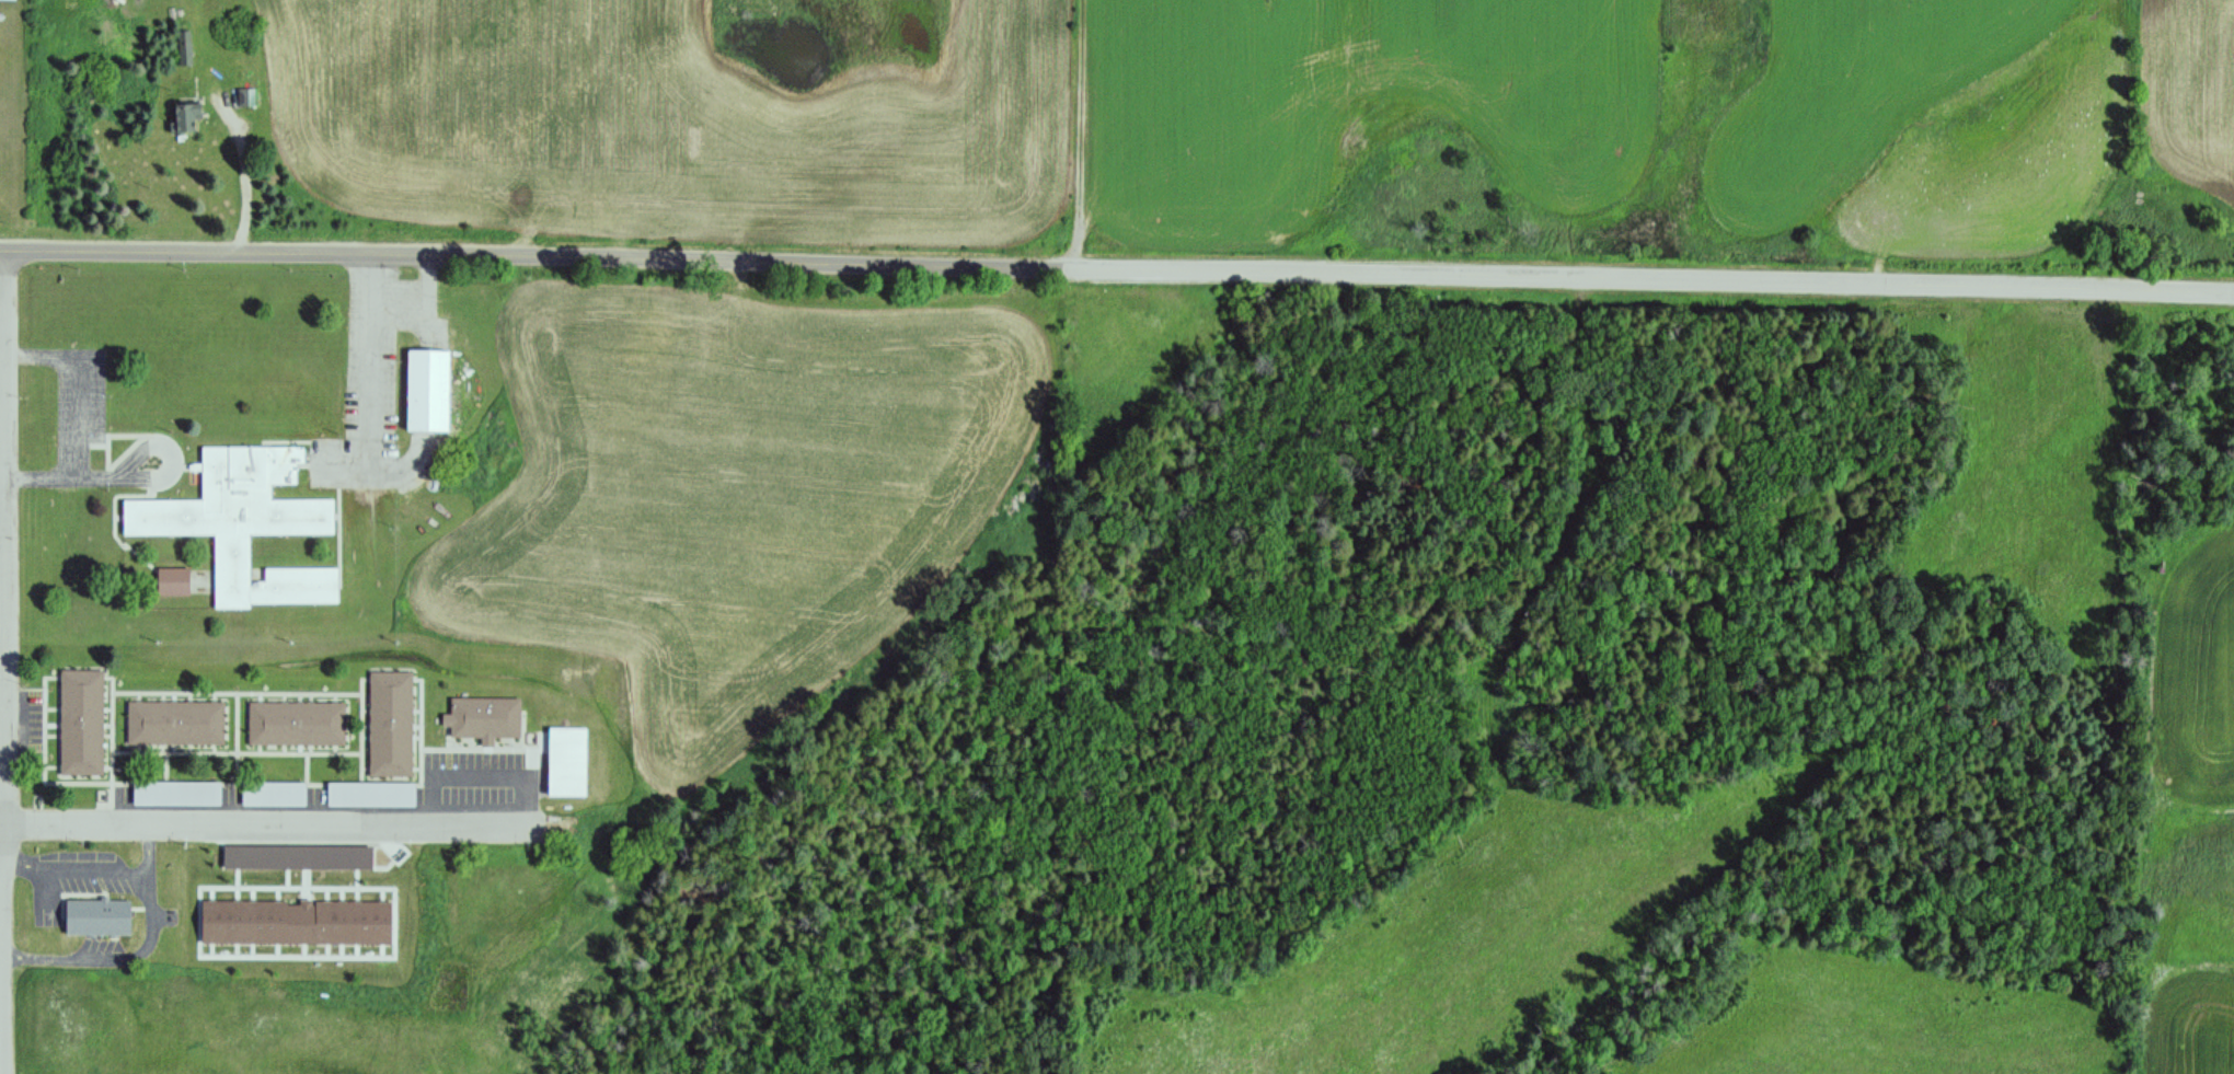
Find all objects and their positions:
building: (9, 0)
building: (182, 46)
building: (242, 95)
building: (181, 114)
road: (1081, 135)
road: (1, 253)
road: (1118, 270)
road: (367, 365)
road: (76, 383)
building: (426, 384)
road: (379, 469)
road: (130, 476)
building: (240, 517)
road: (1, 535)
building: (170, 577)
road: (3, 663)
building: (483, 719)
building: (80, 724)
building: (174, 724)
building: (297, 725)
building: (390, 726)
building: (567, 752)
building: (175, 795)
building: (273, 796)
building: (370, 796)
road: (268, 824)
building: (95, 919)

